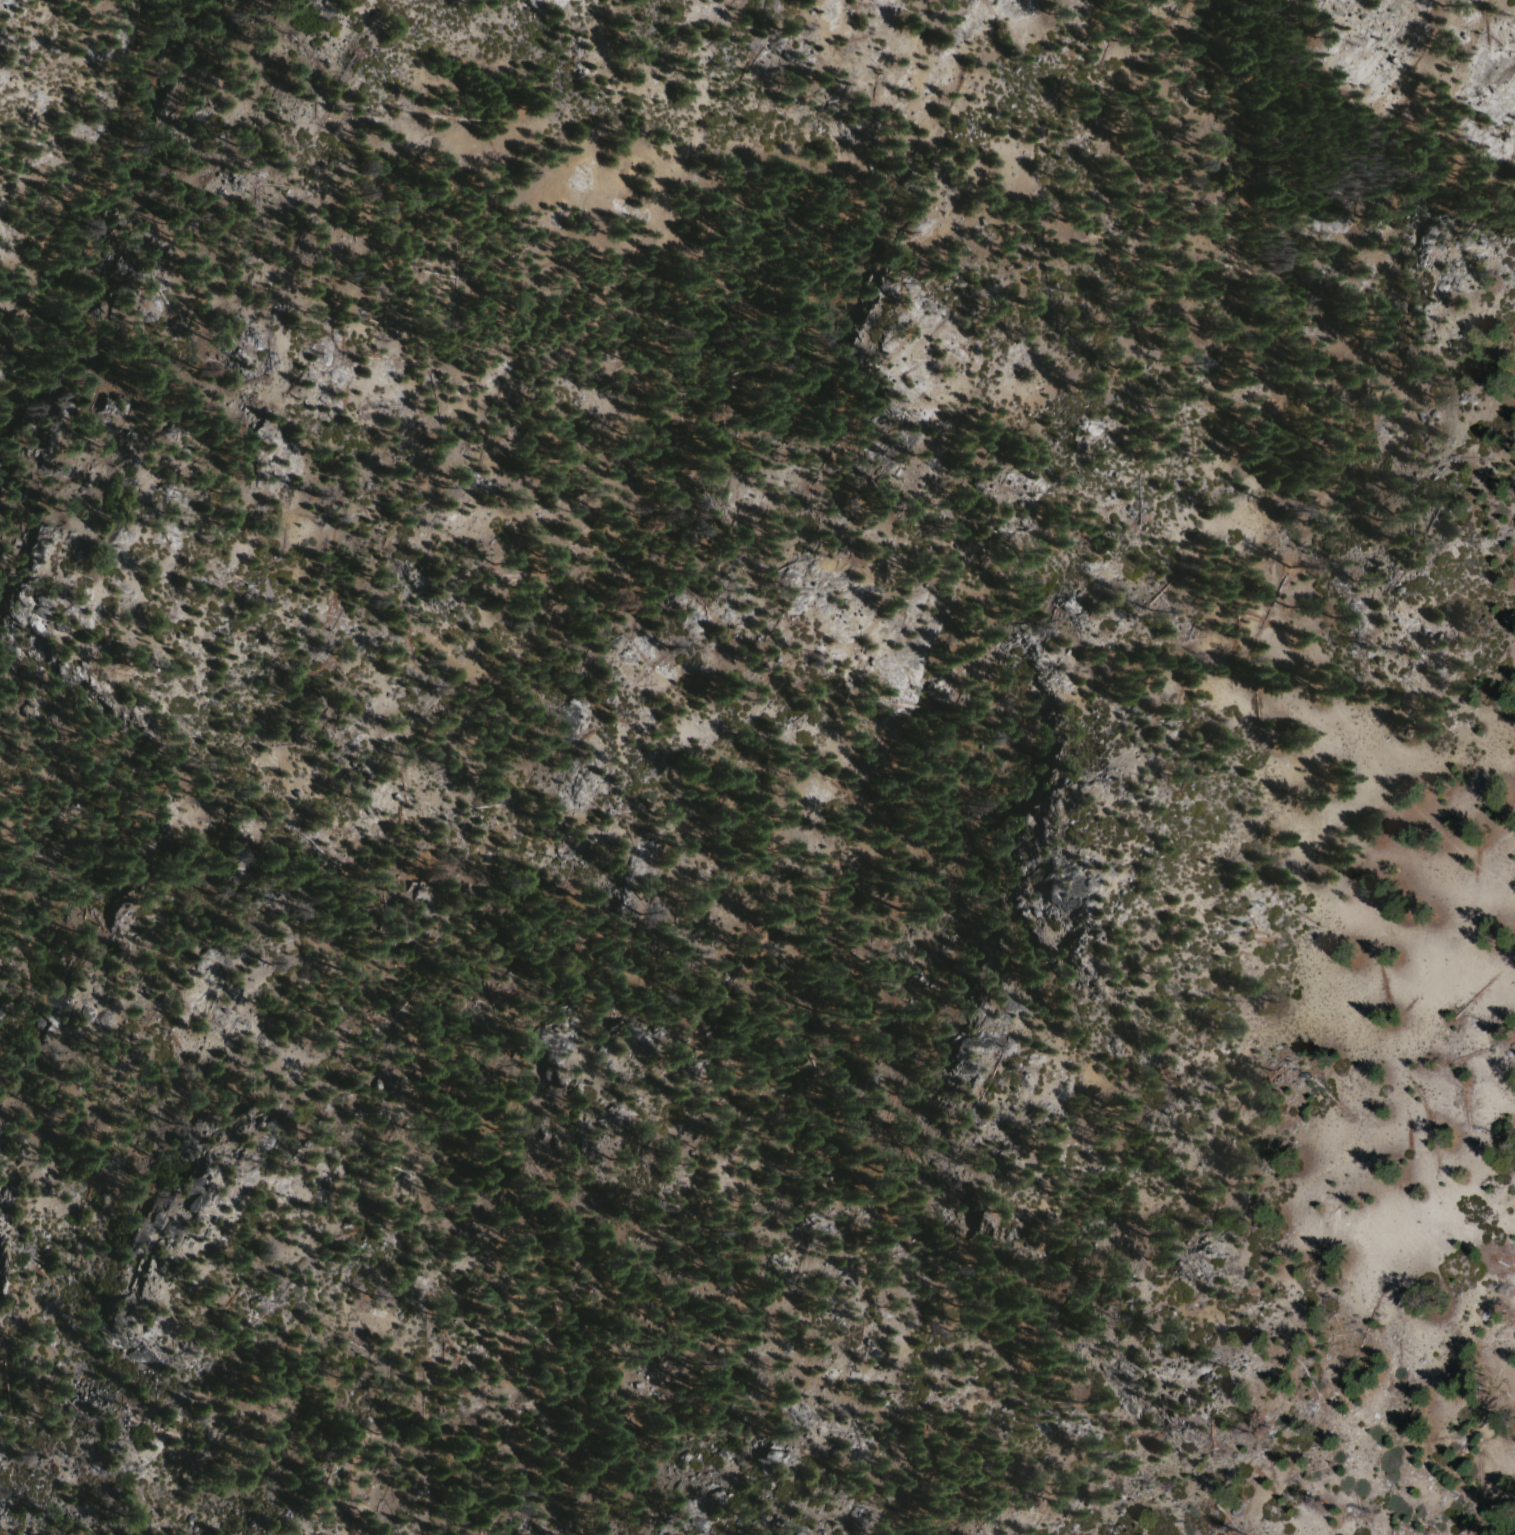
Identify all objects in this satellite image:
road: (1281, 471)

